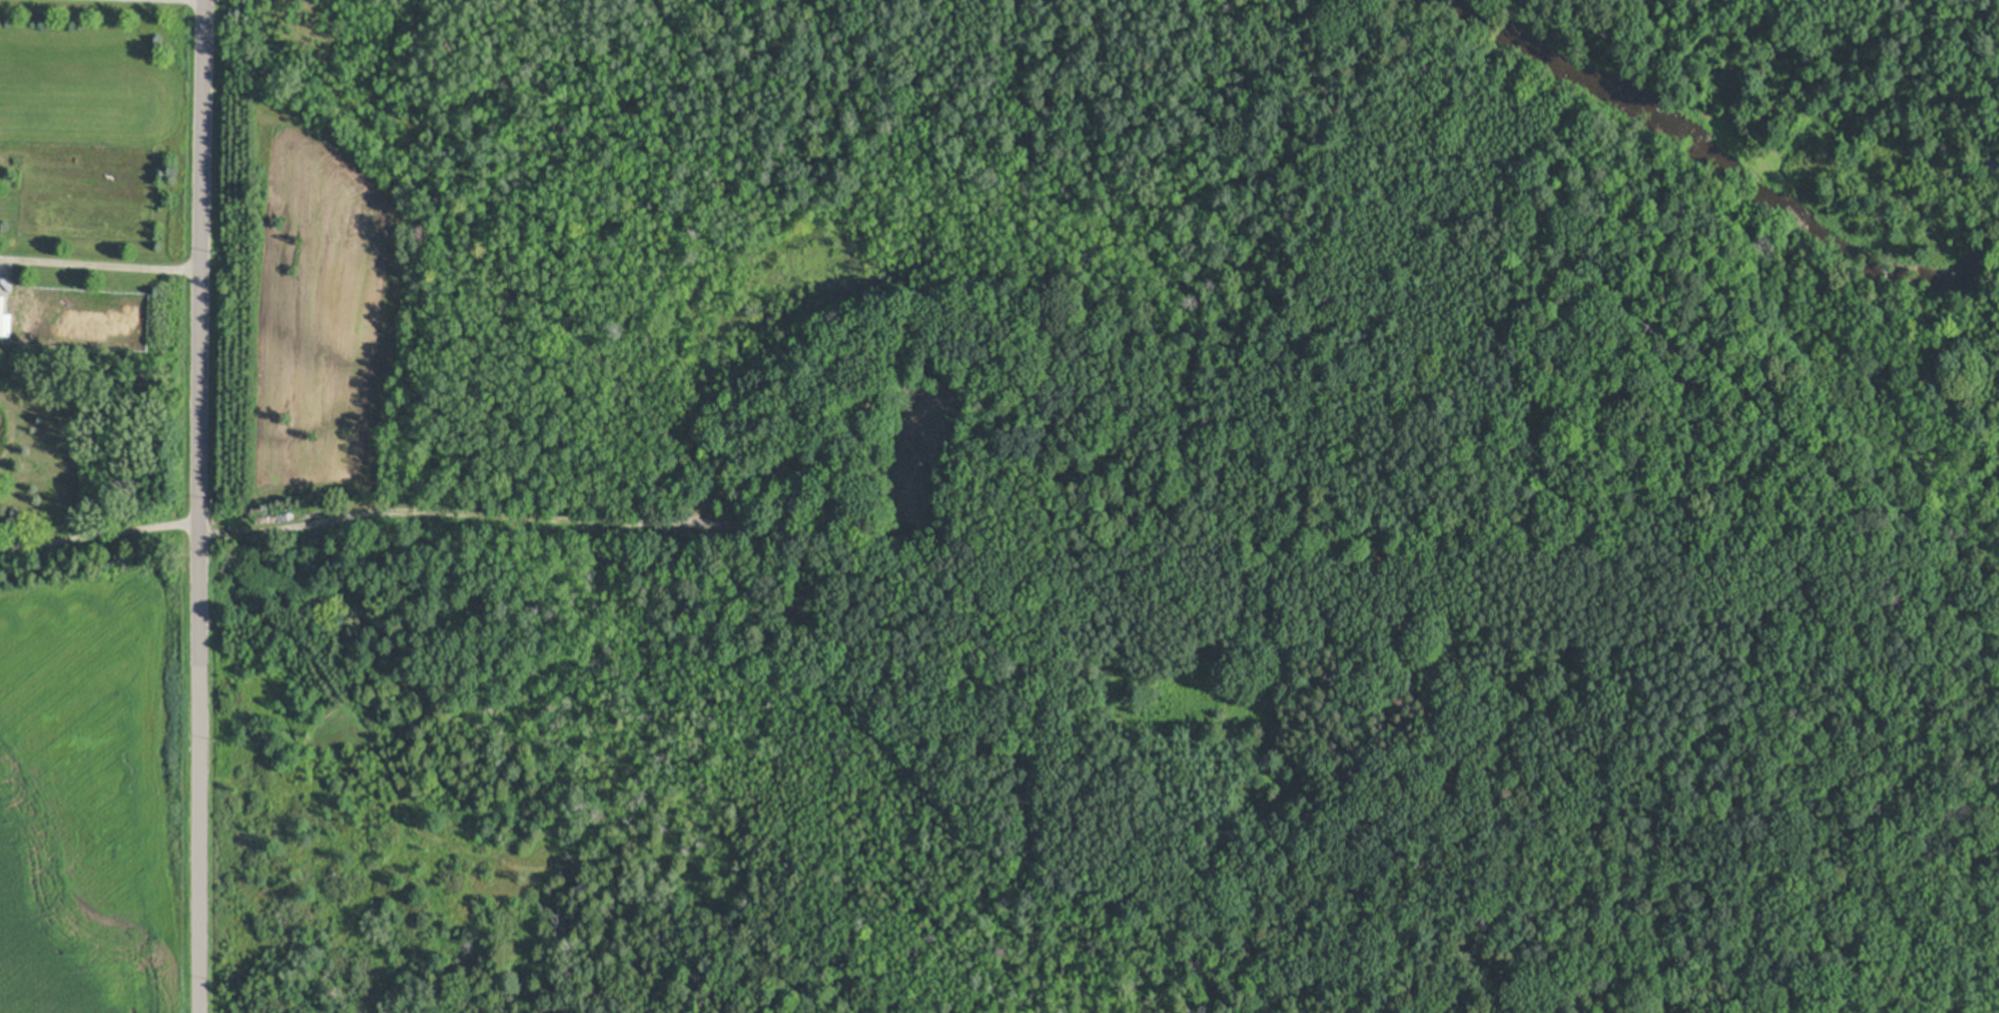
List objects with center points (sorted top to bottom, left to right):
river: (1734, 173)
road: (100, 259)
building: (5, 316)
building: (906, 392)
building: (791, 486)
road: (195, 506)
building: (831, 525)
road: (97, 531)

